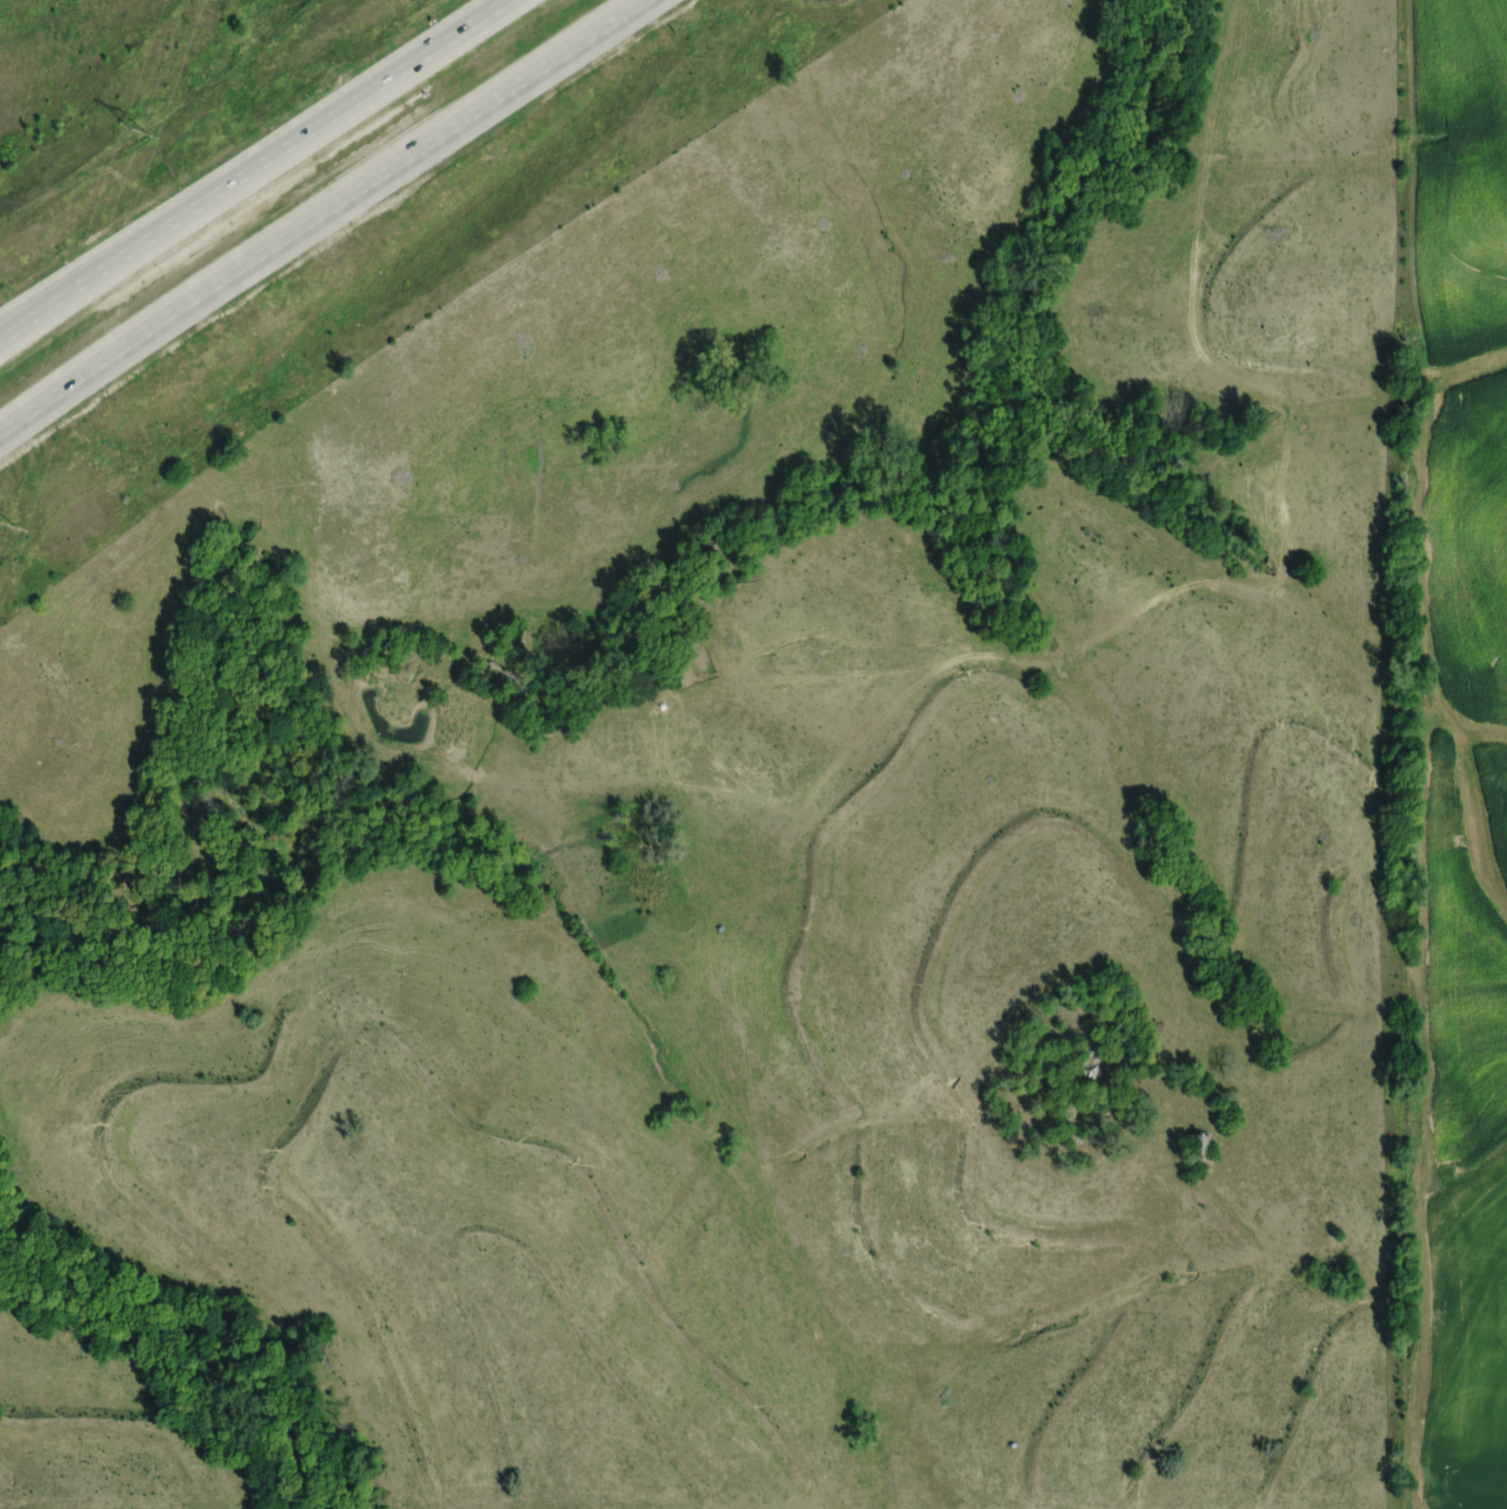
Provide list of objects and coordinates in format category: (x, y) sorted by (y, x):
power tower: (134, 125)
road: (252, 167)
road: (319, 213)
road: (100, 263)
power tower: (12, 522)
building: (1198, 1150)

